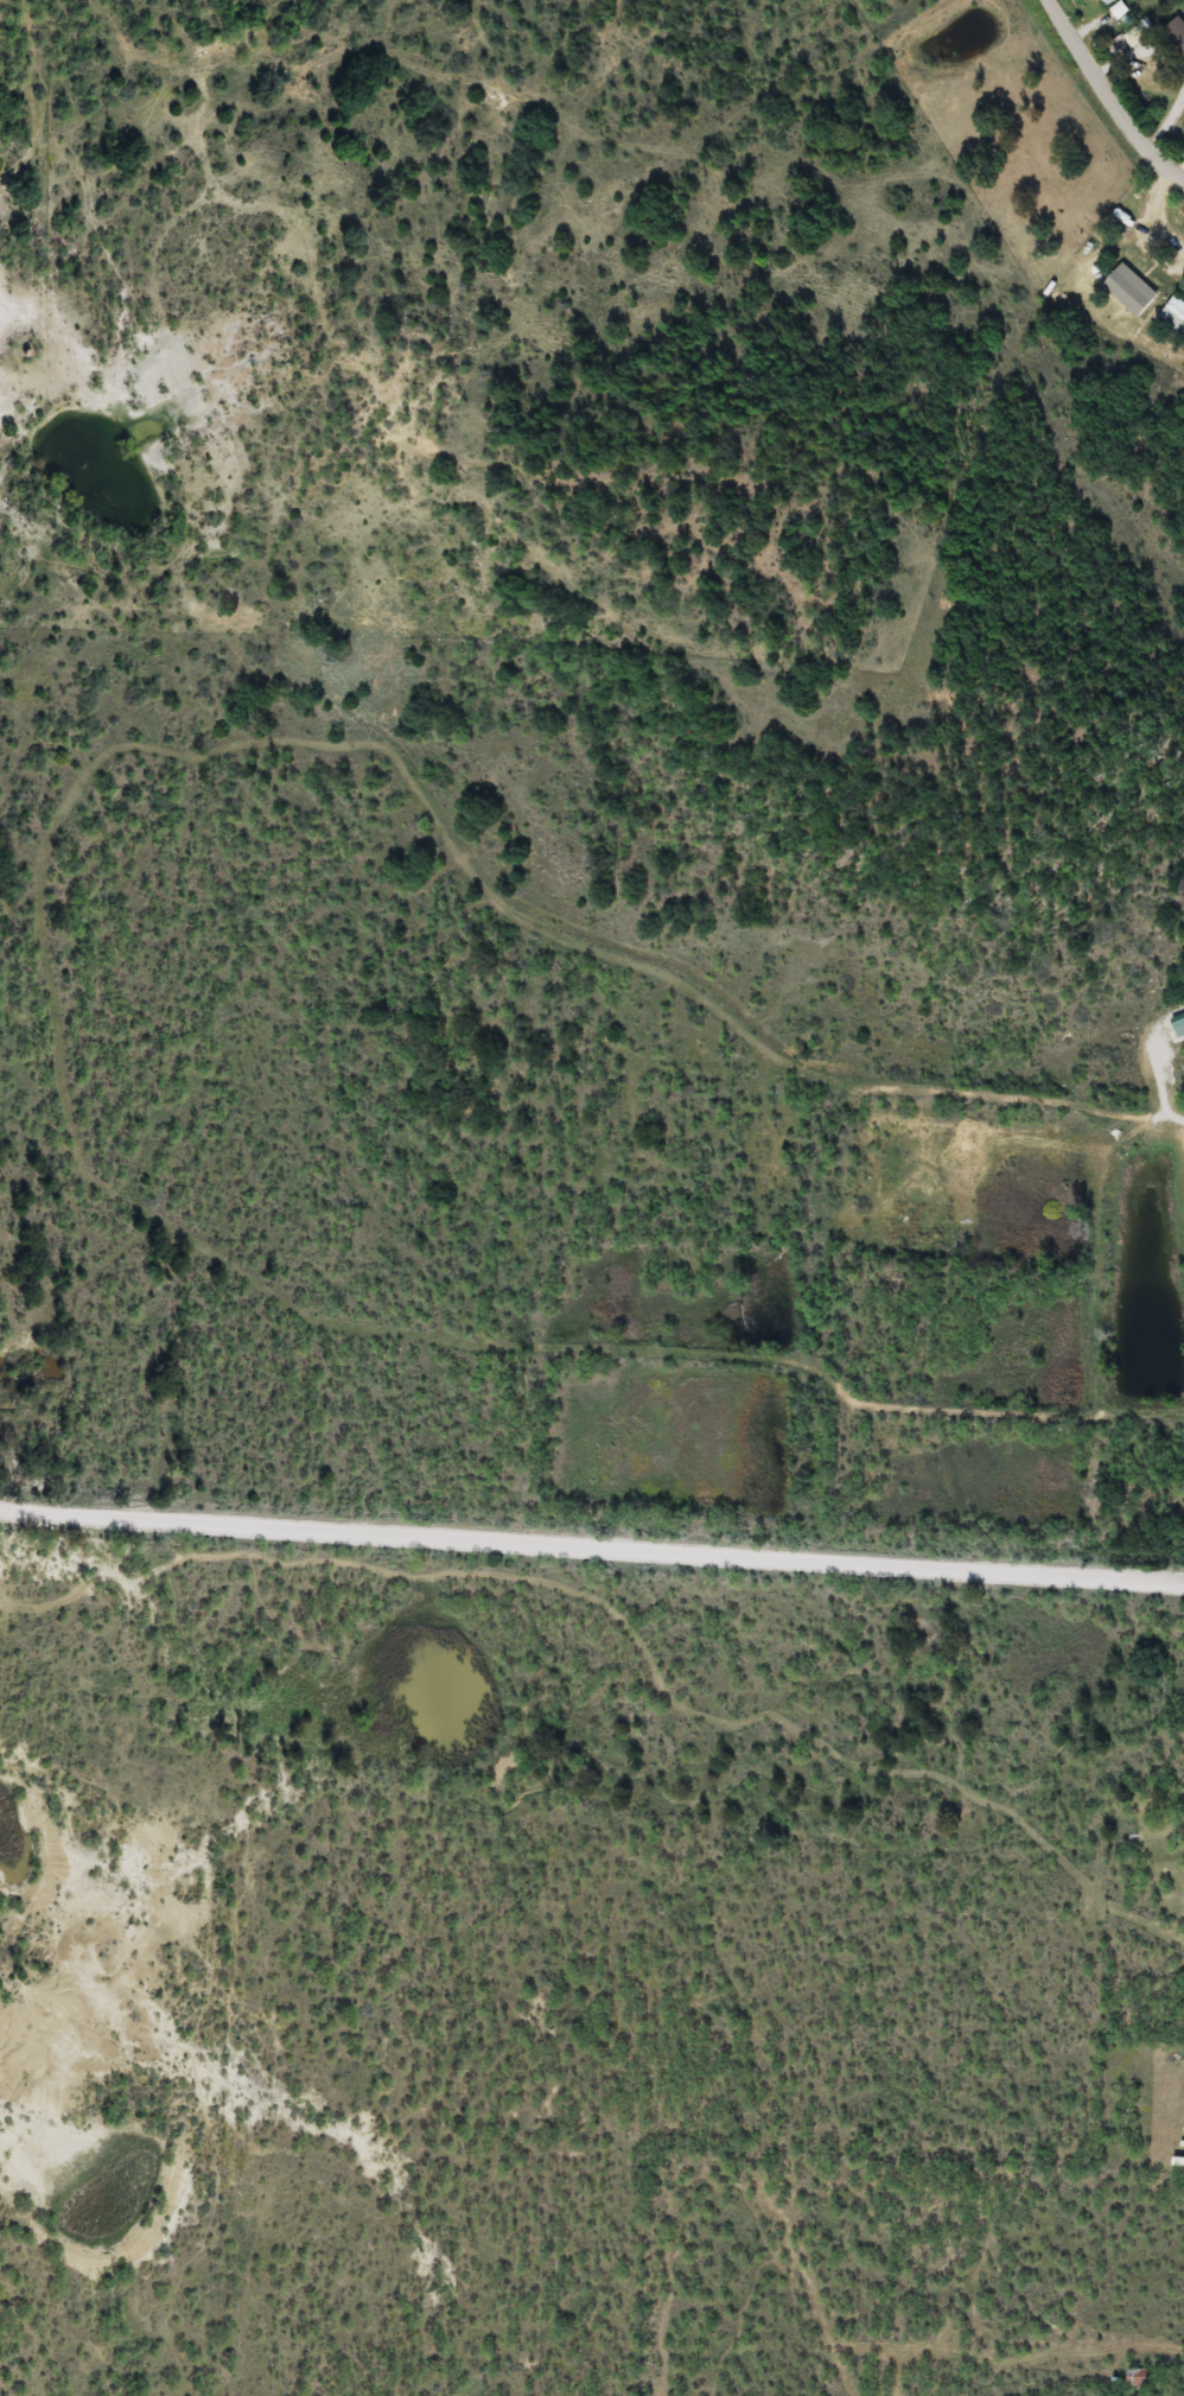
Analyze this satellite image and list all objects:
building: (1110, 2)
building: (1177, 36)
building: (1139, 37)
road: (1109, 101)
building: (1090, 231)
building: (1133, 292)
building: (1175, 319)
road: (592, 1546)
building: (1140, 2379)

